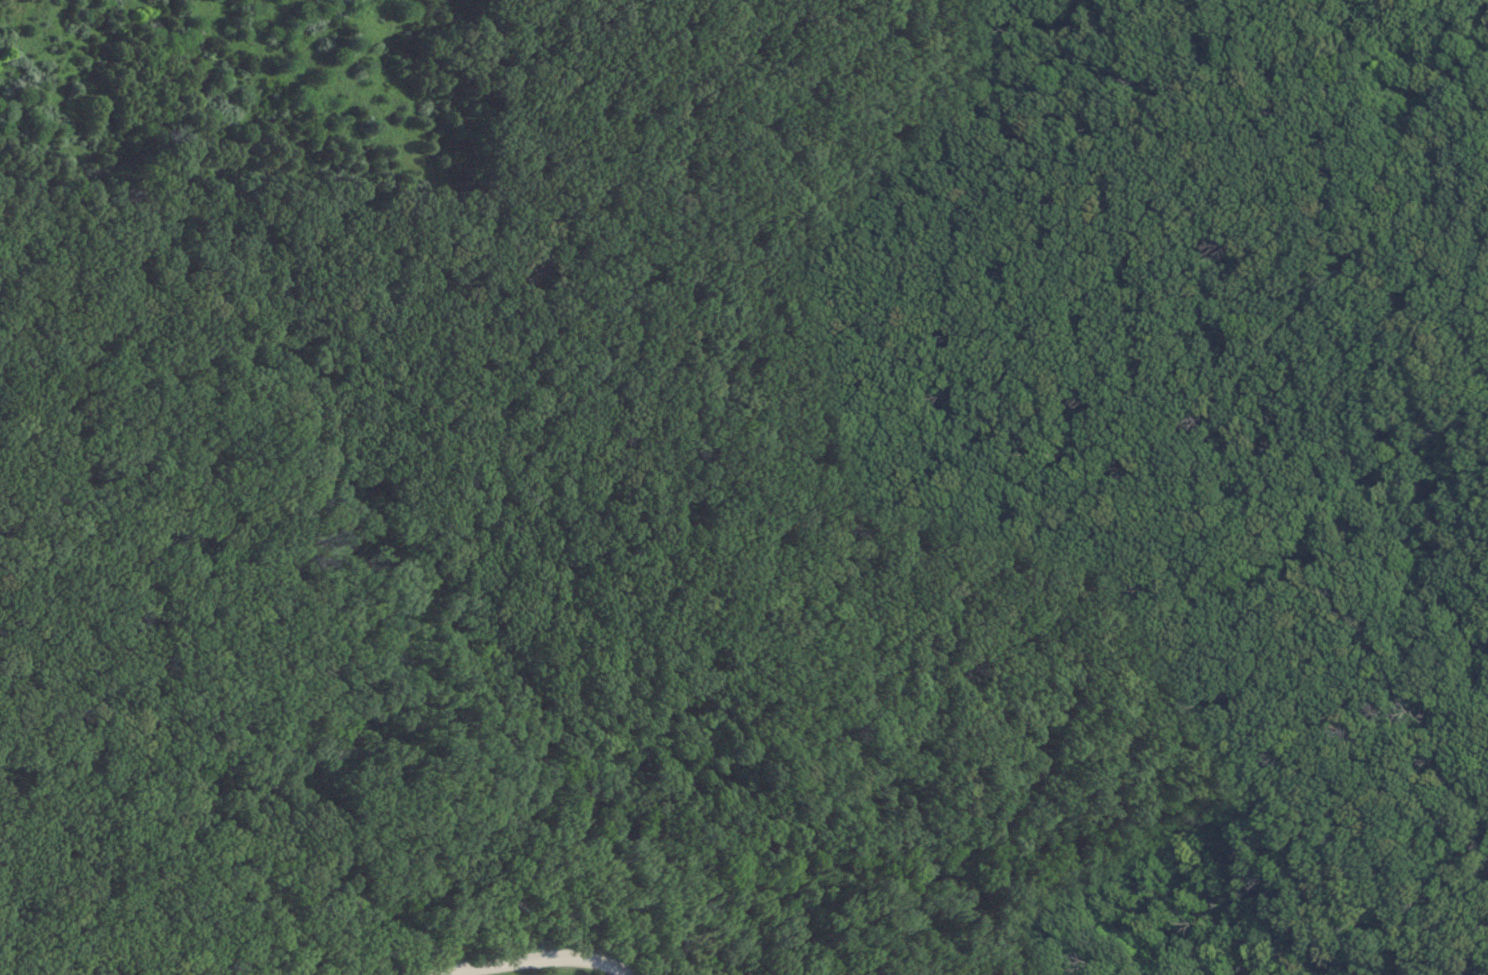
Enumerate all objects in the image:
road: (547, 966)

